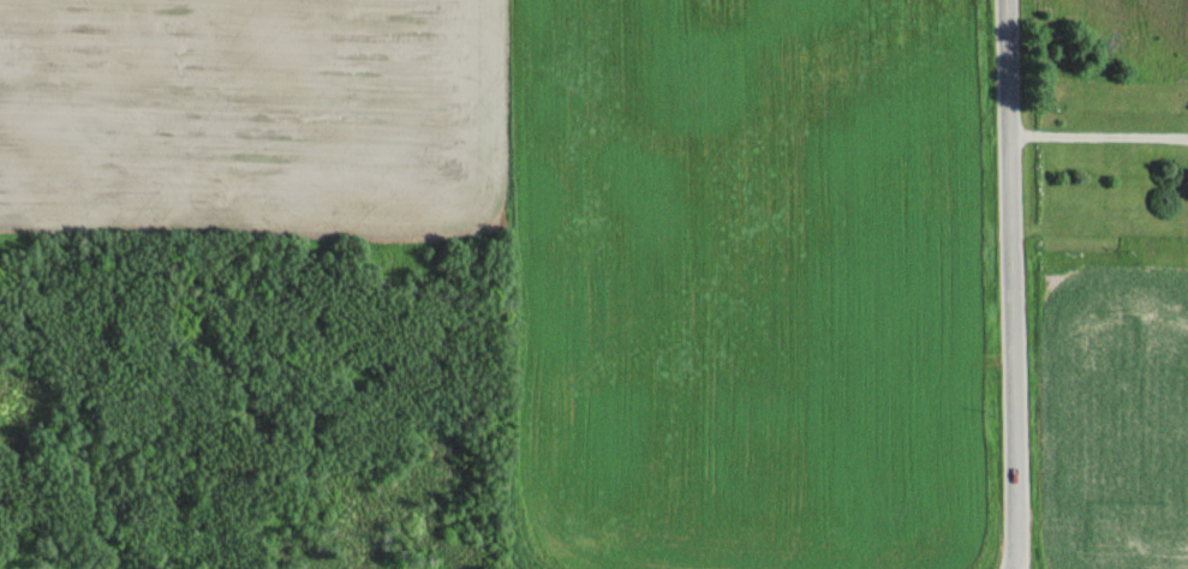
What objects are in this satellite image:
building: (1186, 188)
road: (1009, 284)

